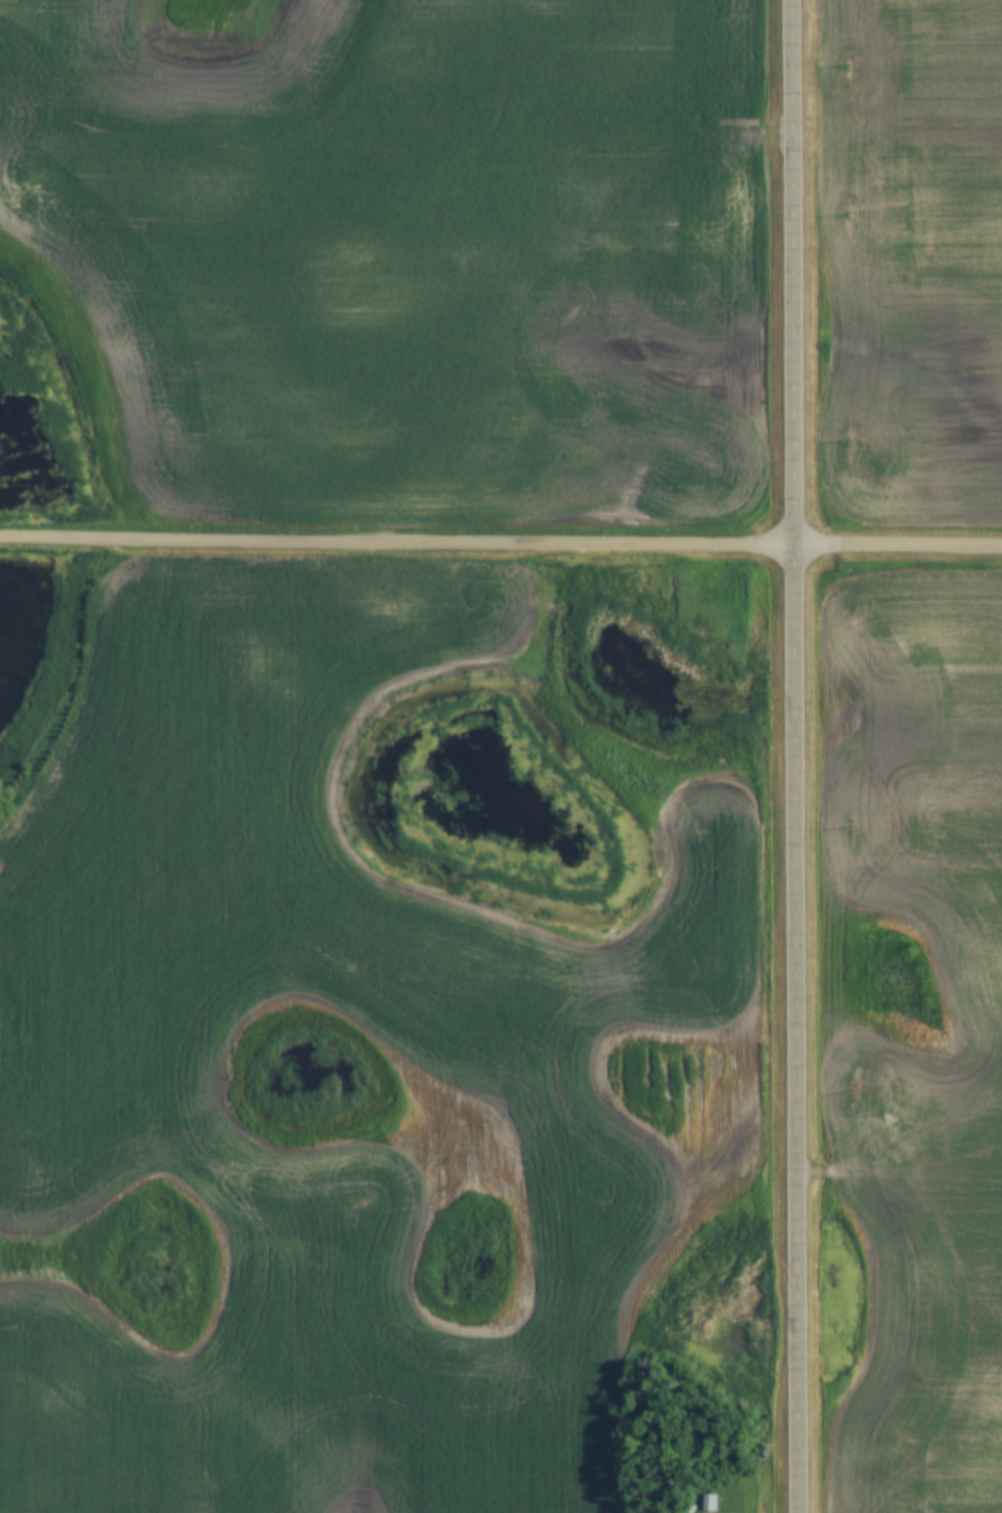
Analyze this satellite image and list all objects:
road: (501, 543)
road: (807, 756)
building: (713, 1502)

